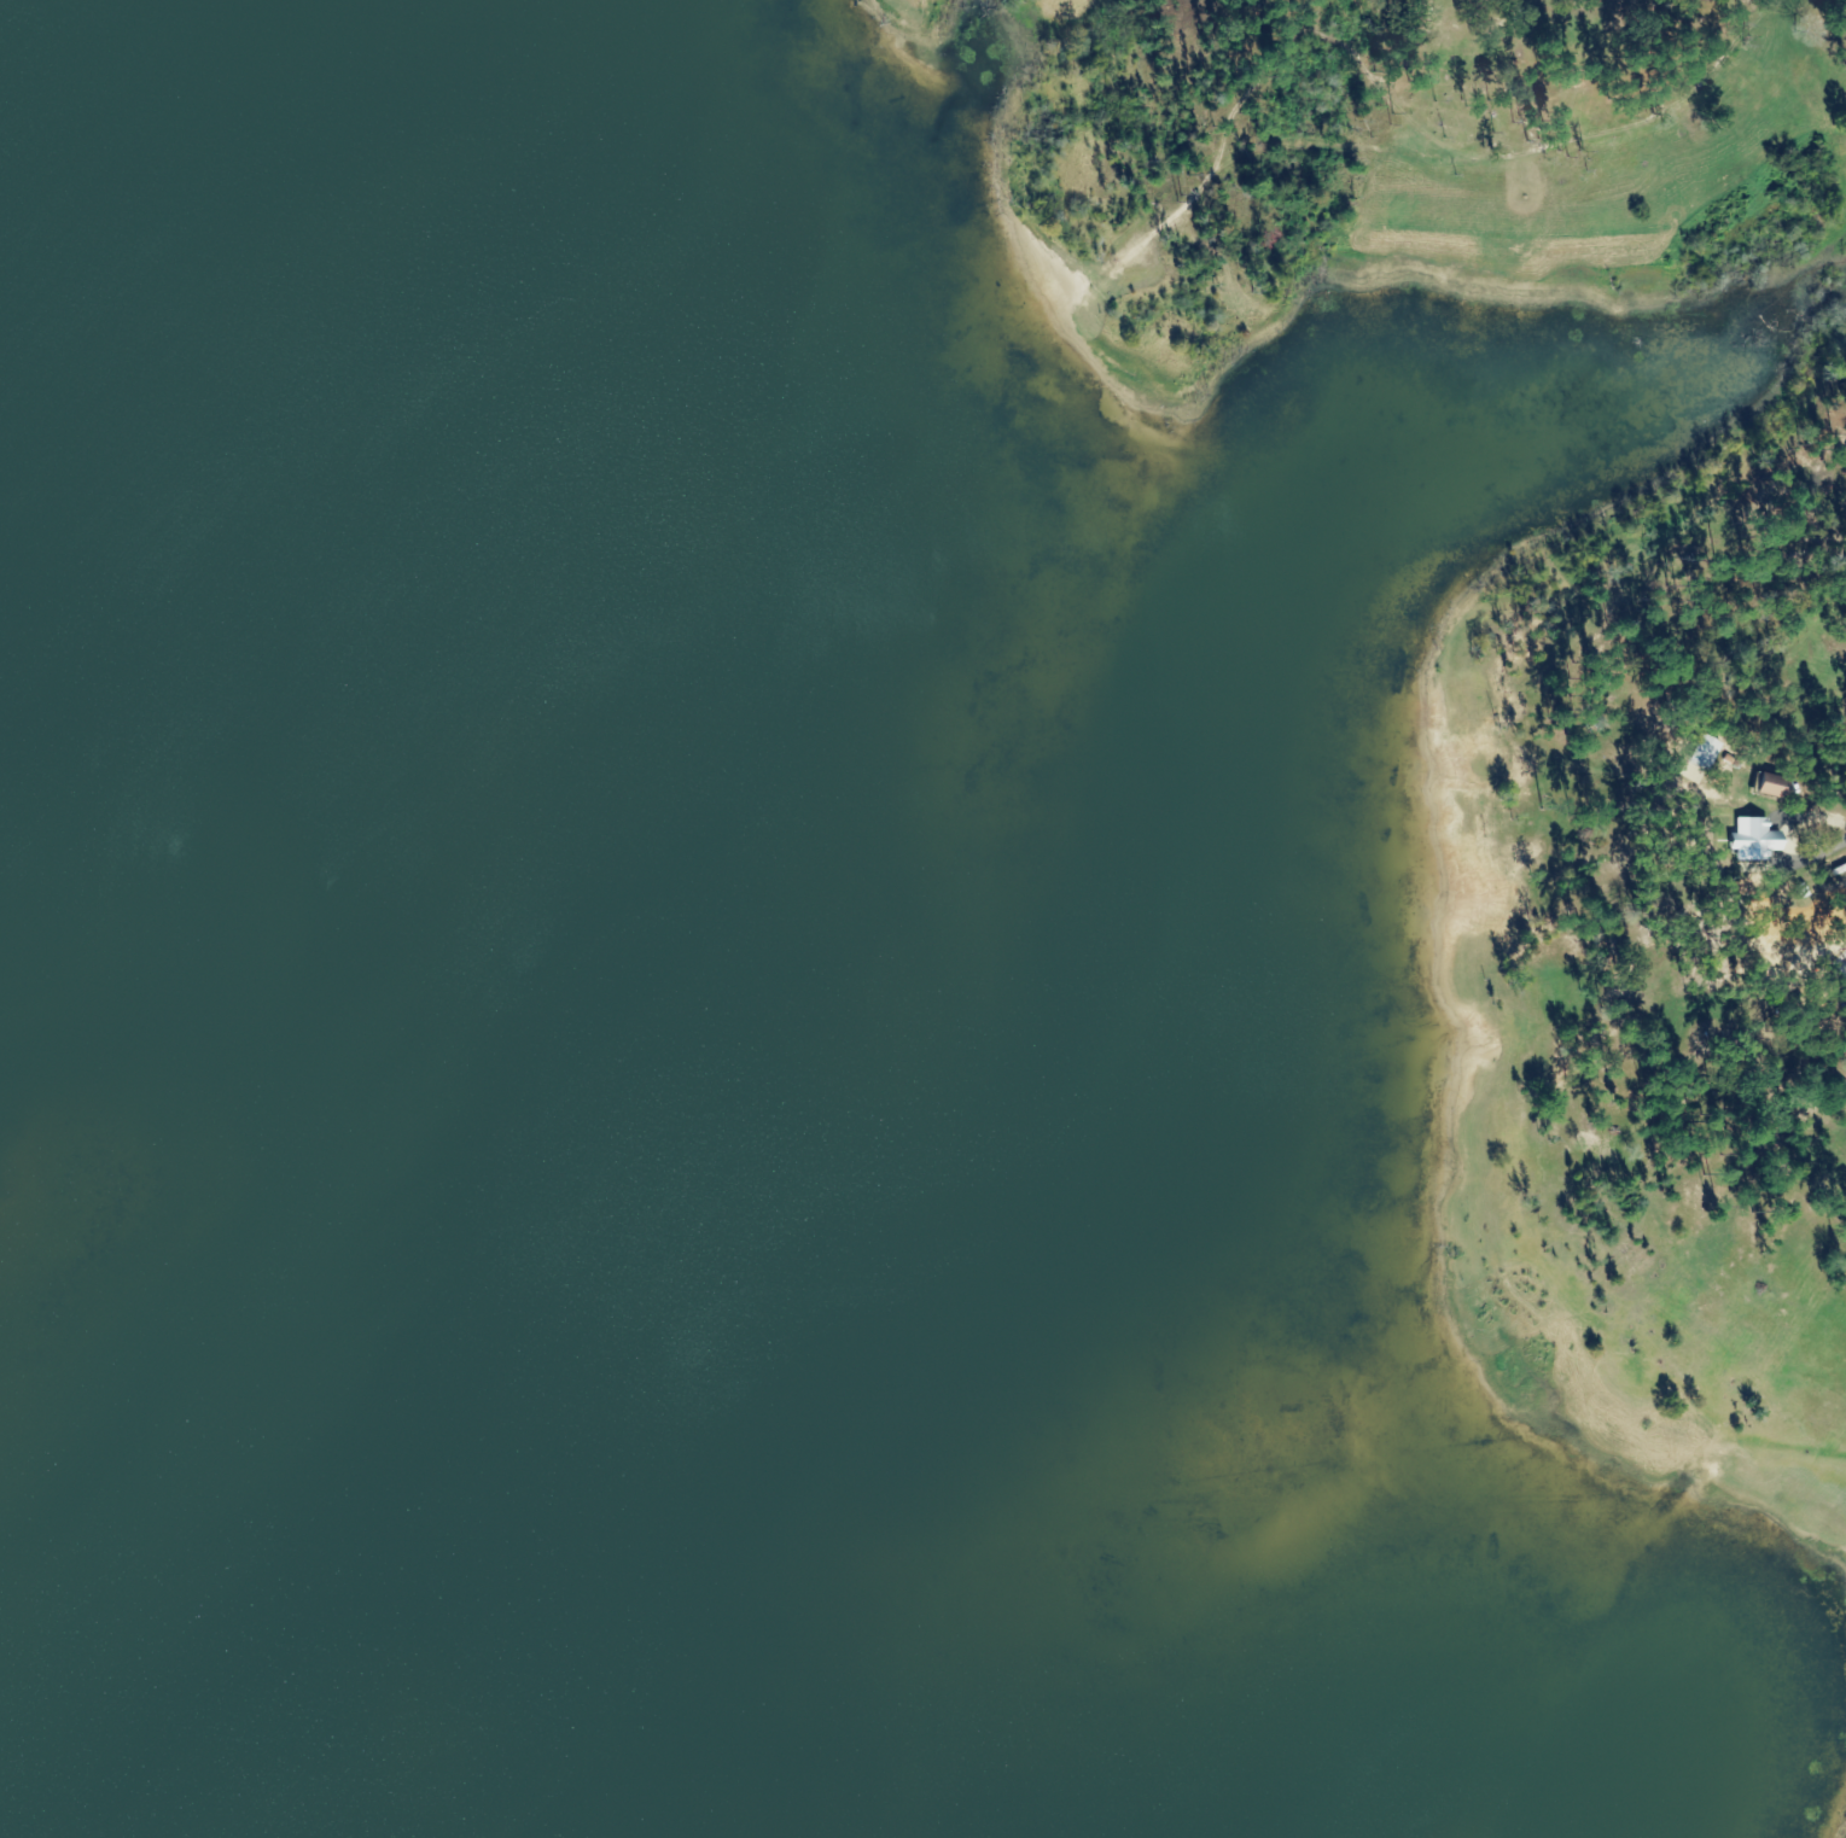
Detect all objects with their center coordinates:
building: (1705, 753)
building: (1771, 787)
building: (1753, 840)

